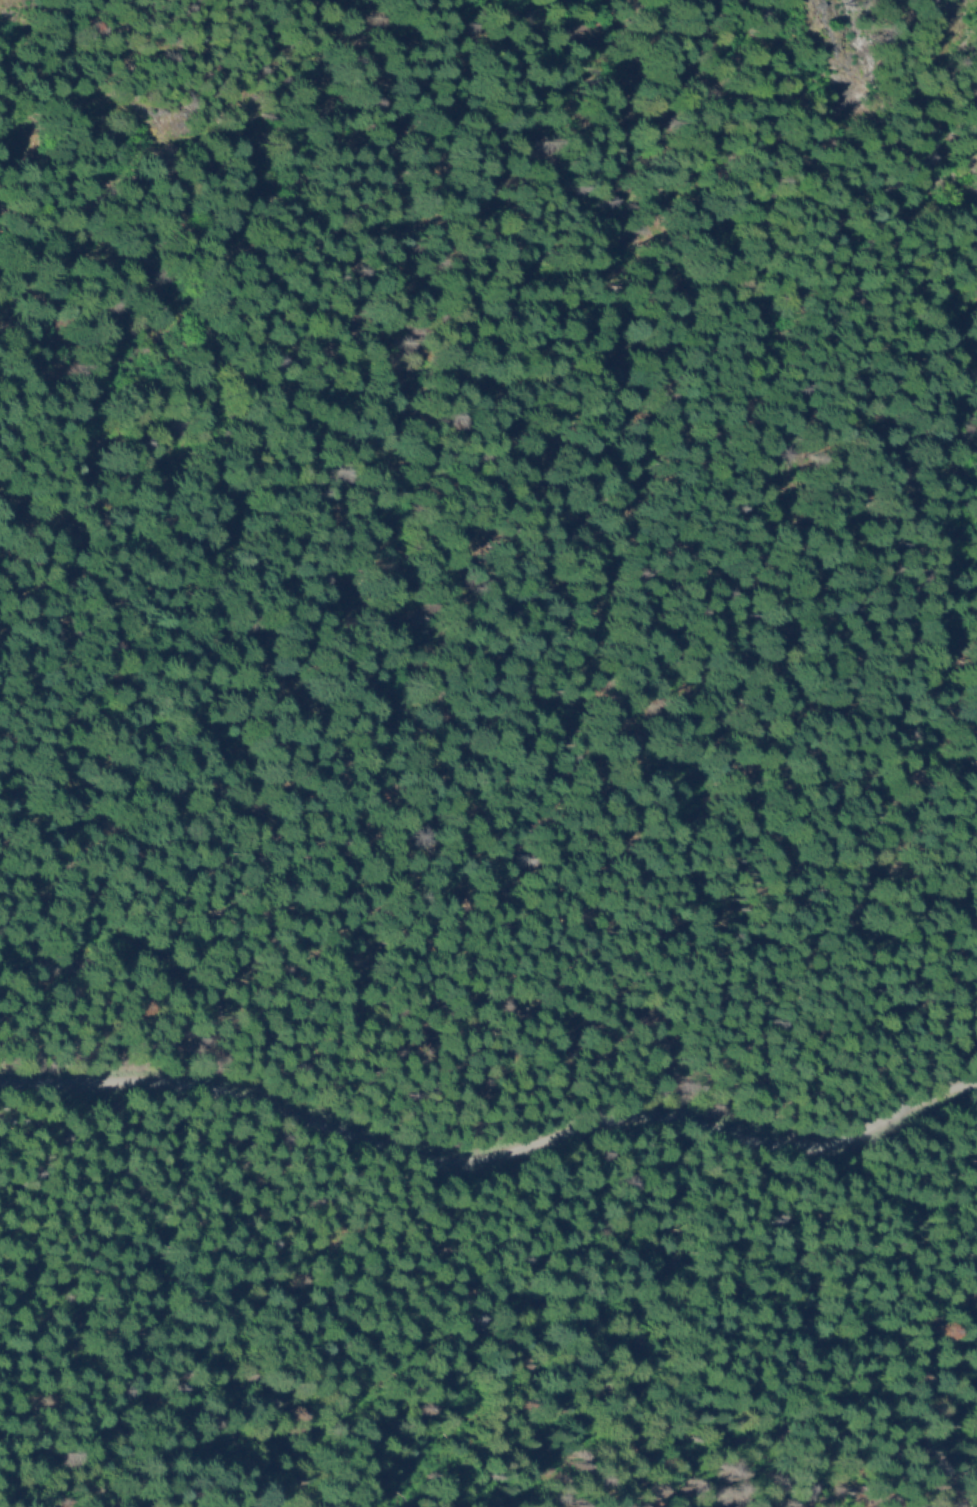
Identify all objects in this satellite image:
road: (490, 1160)

